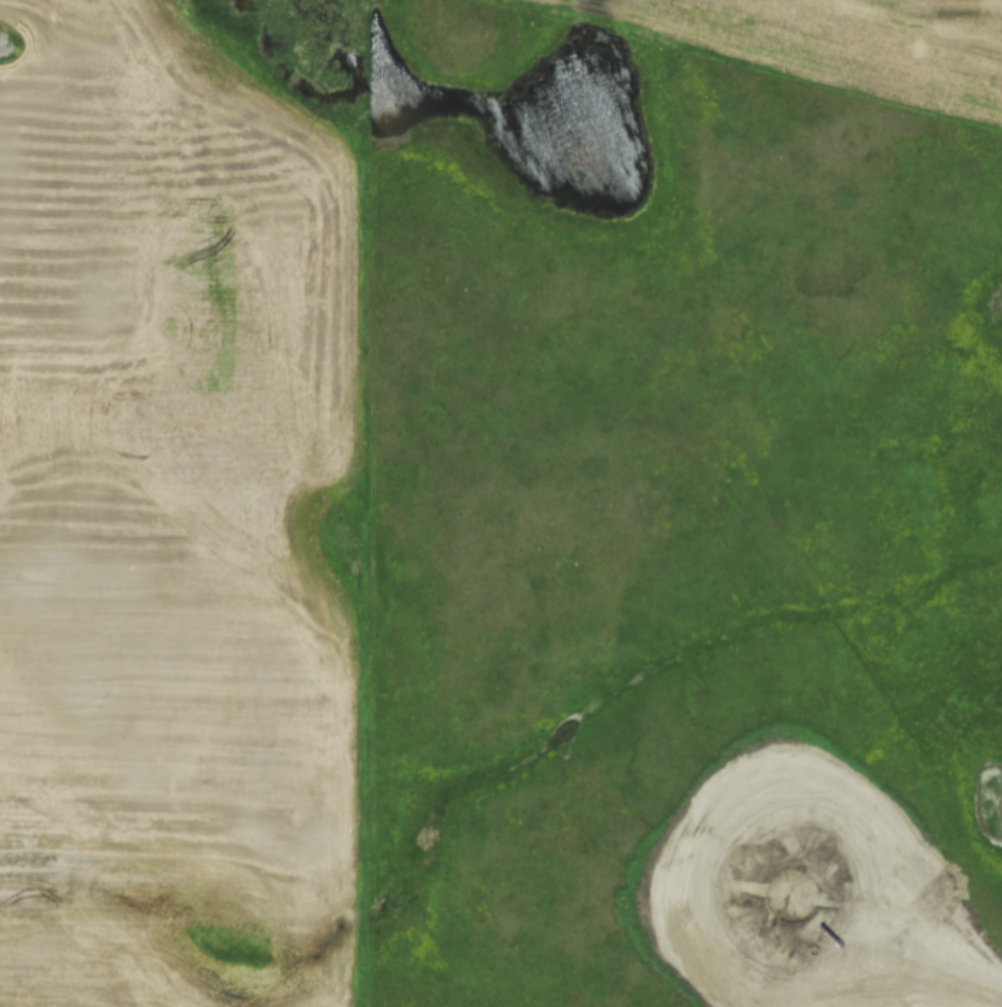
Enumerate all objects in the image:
wind turbine: (799, 901)

